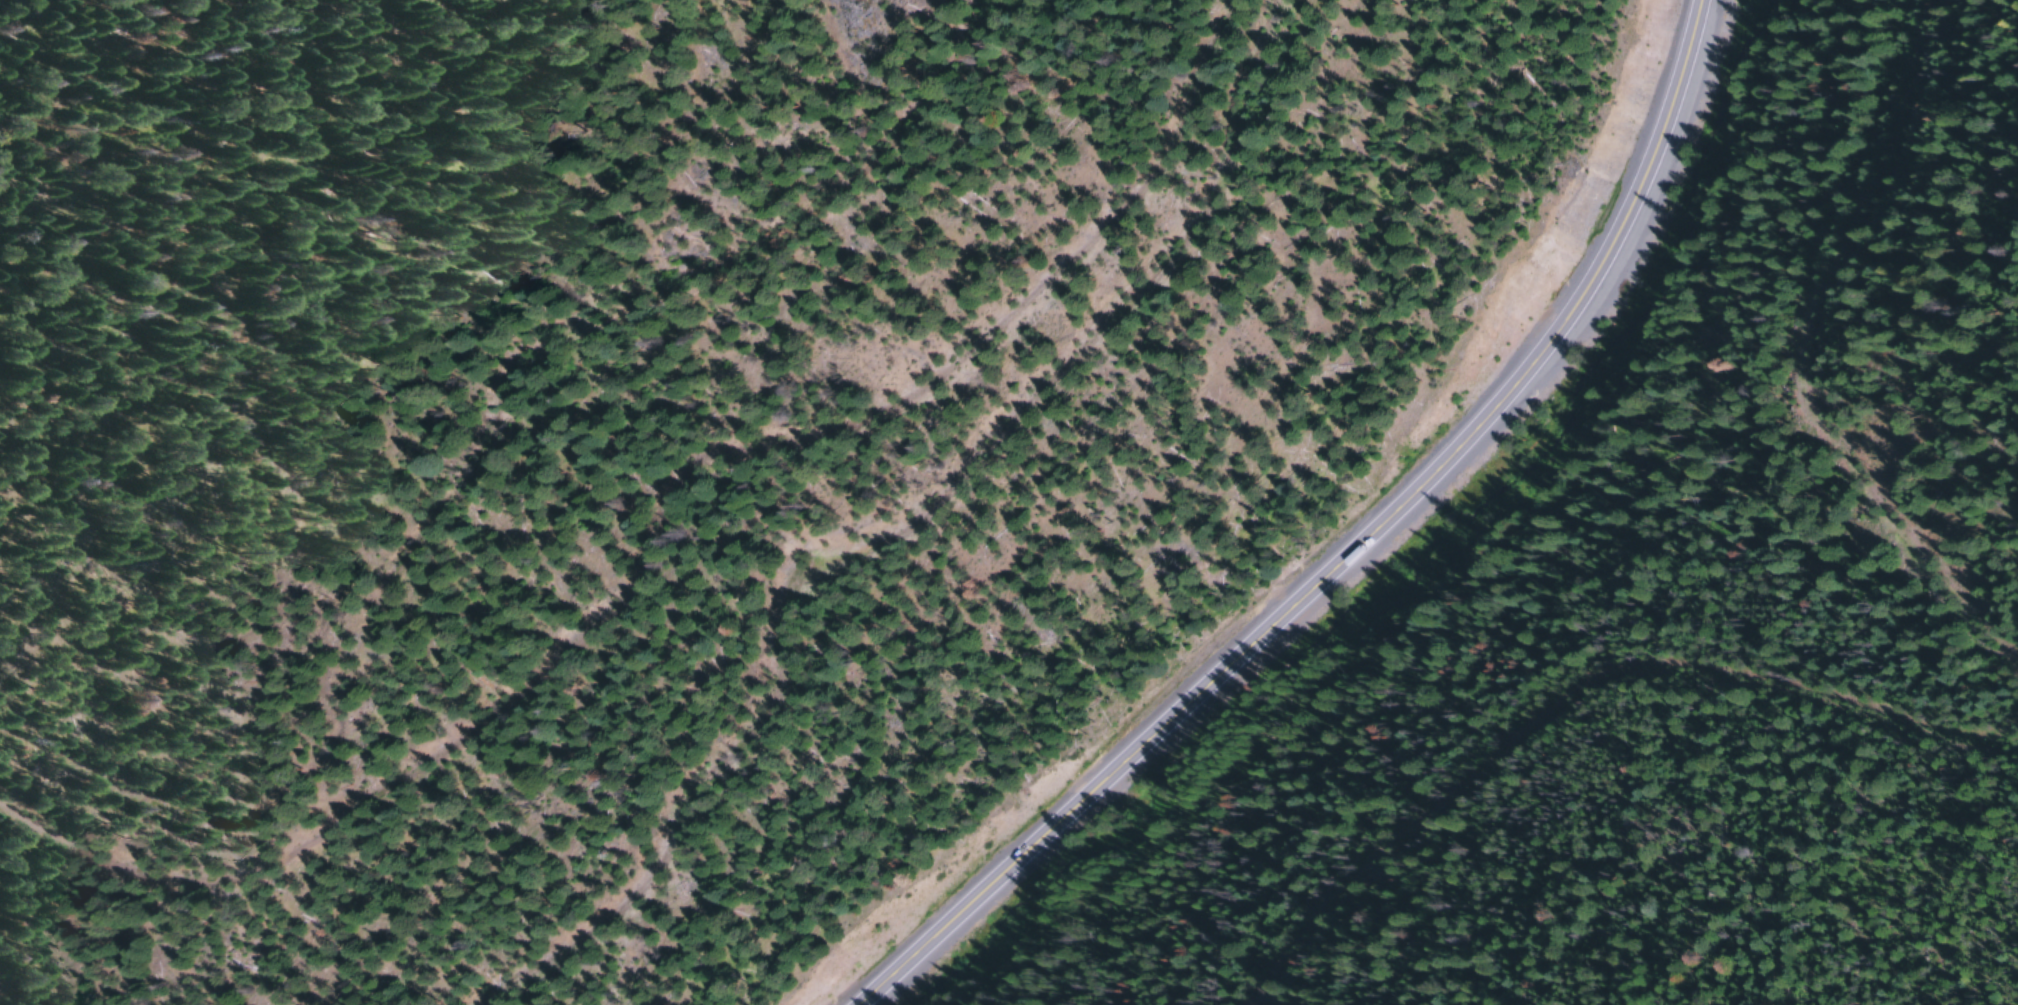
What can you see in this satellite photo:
road: (509, 316)
road: (1796, 371)
road: (831, 506)
road: (1369, 552)
road: (1582, 687)

